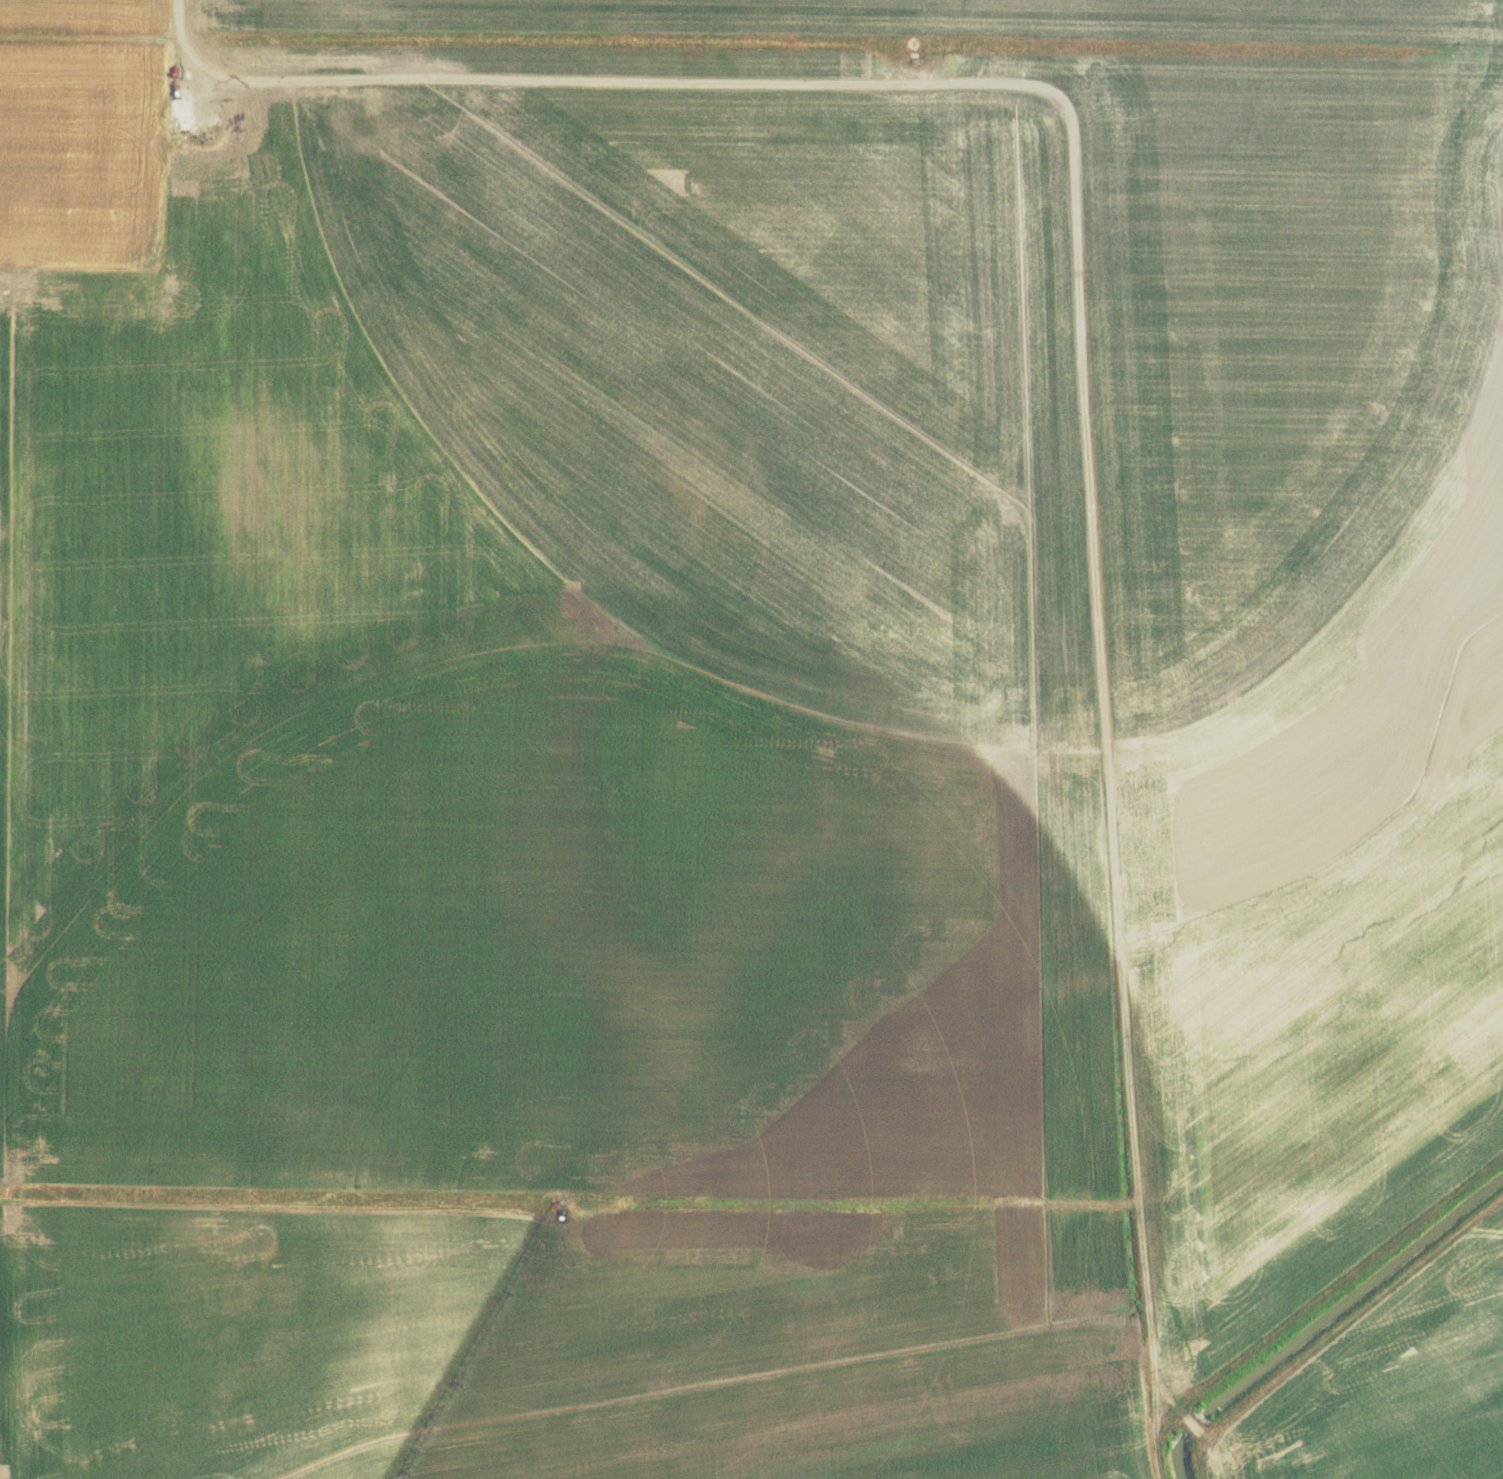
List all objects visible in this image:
road: (89, 38)
road: (1081, 280)
road: (570, 1206)
road: (1155, 1443)

